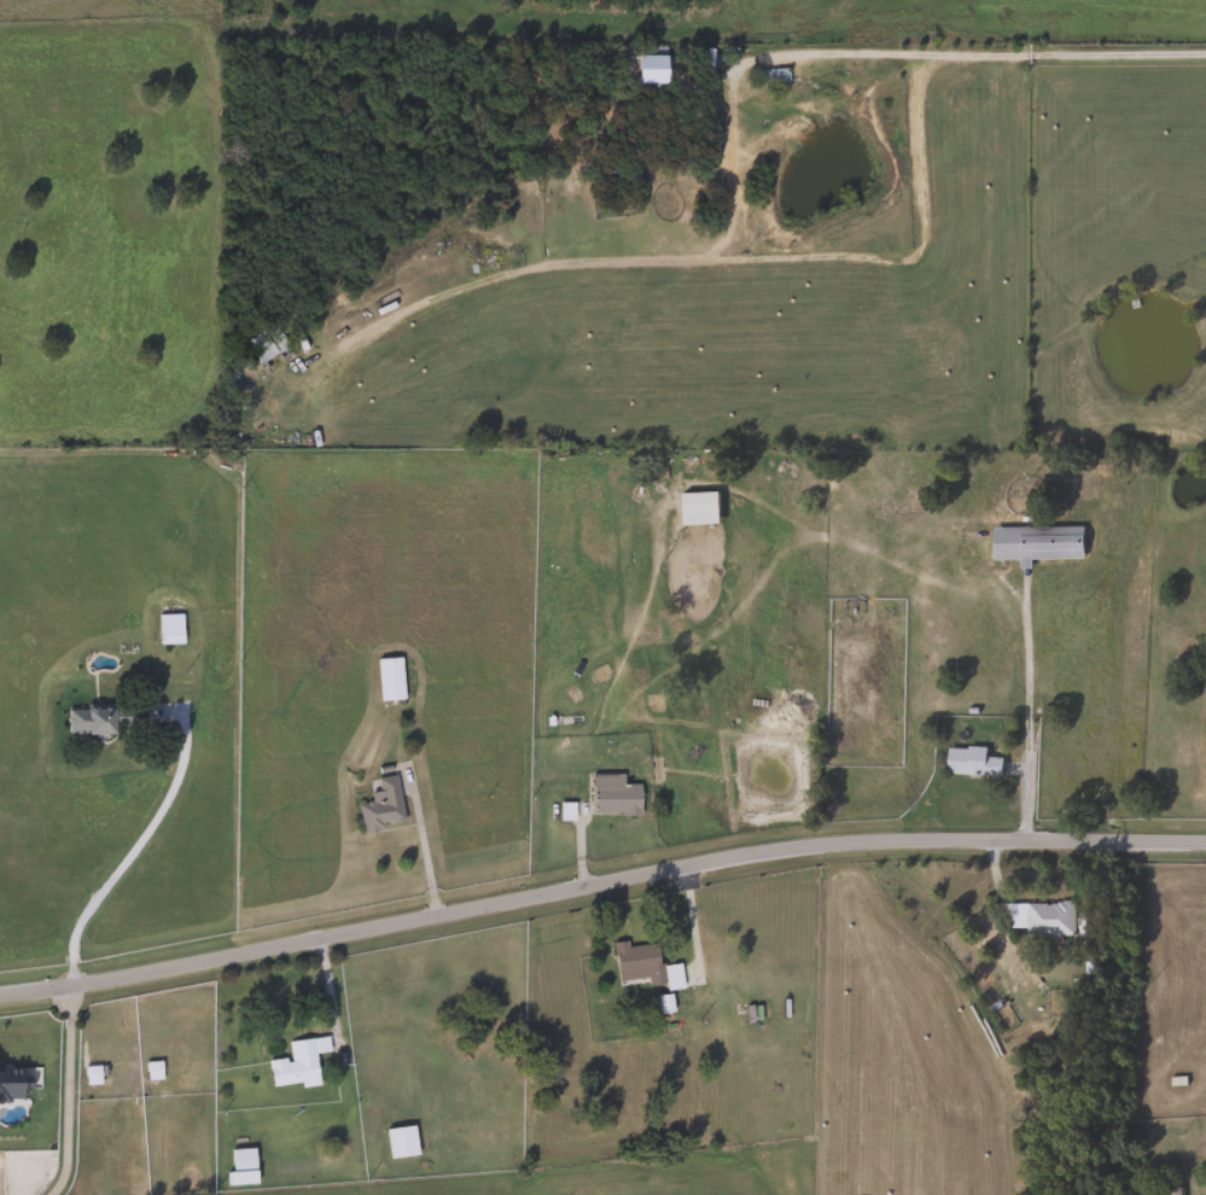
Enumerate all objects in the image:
road: (967, 56)
building: (641, 70)
building: (614, 181)
building: (275, 345)
building: (1035, 542)
building: (167, 629)
building: (386, 678)
road: (1026, 717)
building: (99, 718)
building: (969, 760)
building: (610, 795)
building: (379, 805)
road: (123, 856)
road: (599, 884)
building: (1037, 917)
building: (640, 964)
building: (296, 1062)
road: (66, 1095)
building: (400, 1141)
building: (240, 1166)

